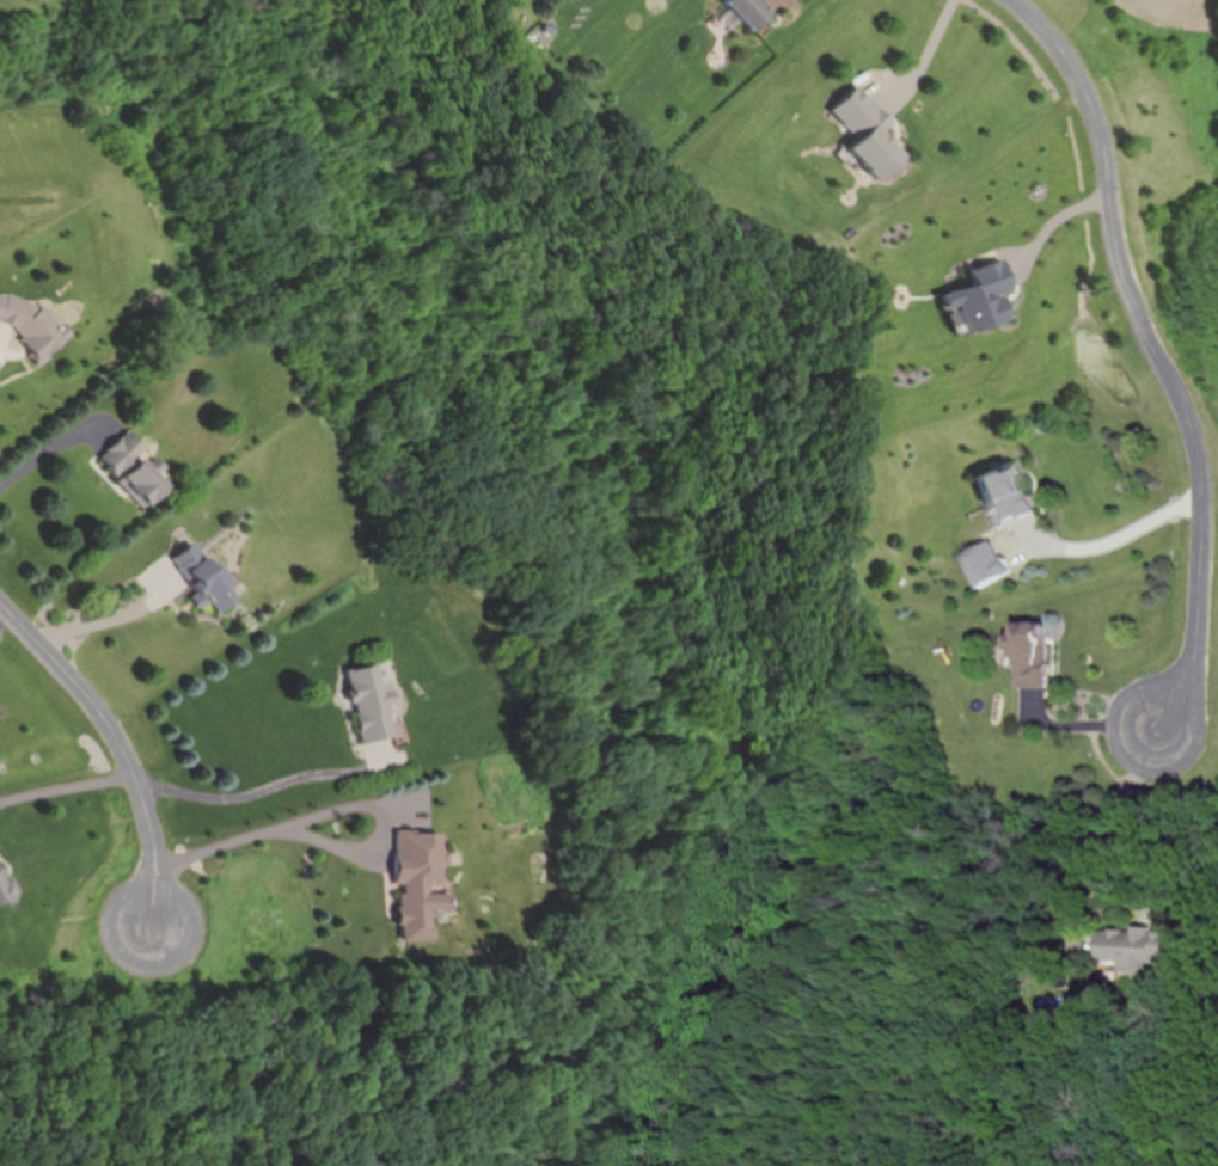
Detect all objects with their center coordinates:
building: (751, 8)
road: (934, 42)
building: (871, 140)
building: (31, 327)
road: (1174, 350)
road: (53, 447)
building: (131, 468)
building: (1004, 493)
road: (1110, 539)
building: (201, 578)
road: (2, 614)
road: (105, 620)
building: (369, 705)
road: (118, 742)
road: (268, 786)
road: (67, 790)
road: (342, 810)
road: (1098, 827)
building: (416, 883)
building: (2, 889)
building: (1134, 947)

